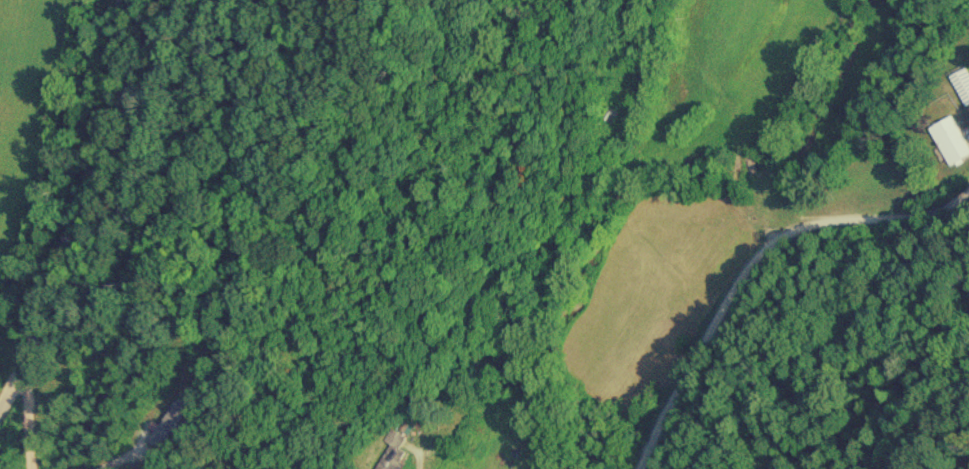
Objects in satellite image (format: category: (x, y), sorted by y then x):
road: (86, 211)
road: (741, 243)
road: (26, 417)
road: (123, 457)
road: (418, 460)

